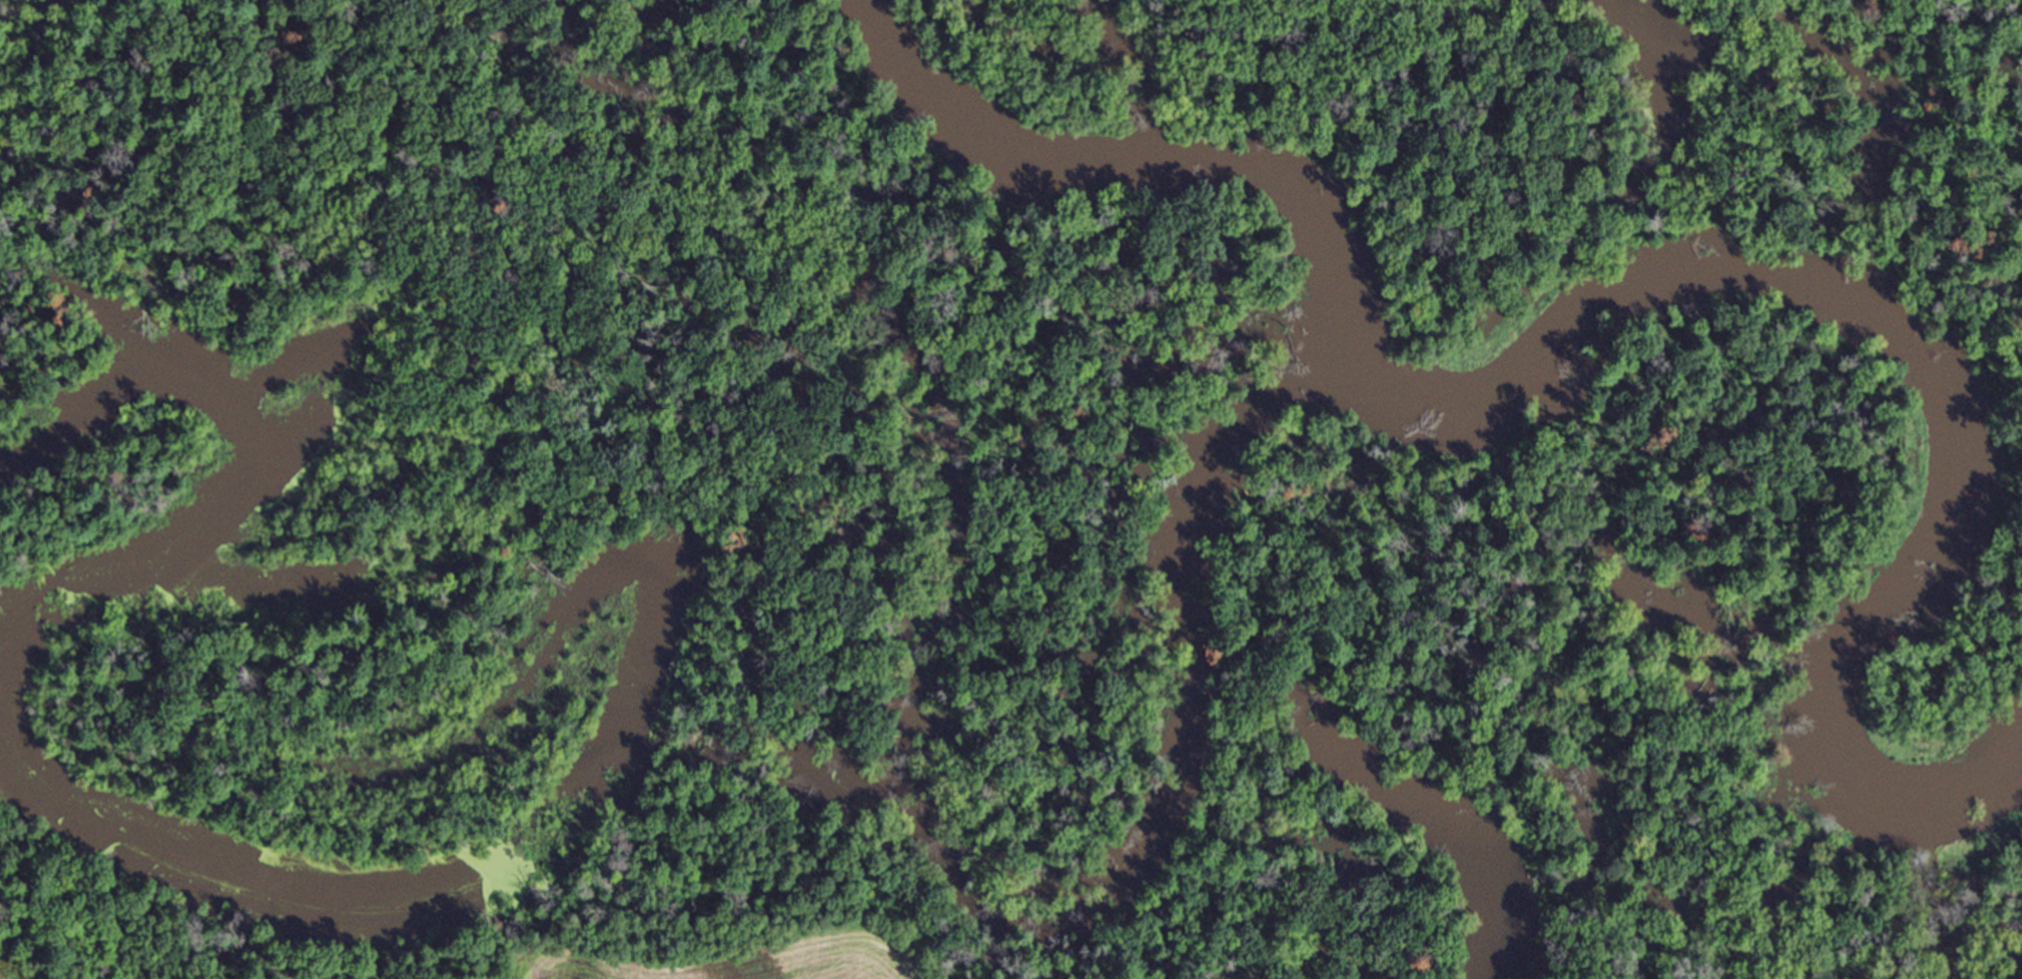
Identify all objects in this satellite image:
river: (1163, 141)
river: (1943, 386)

